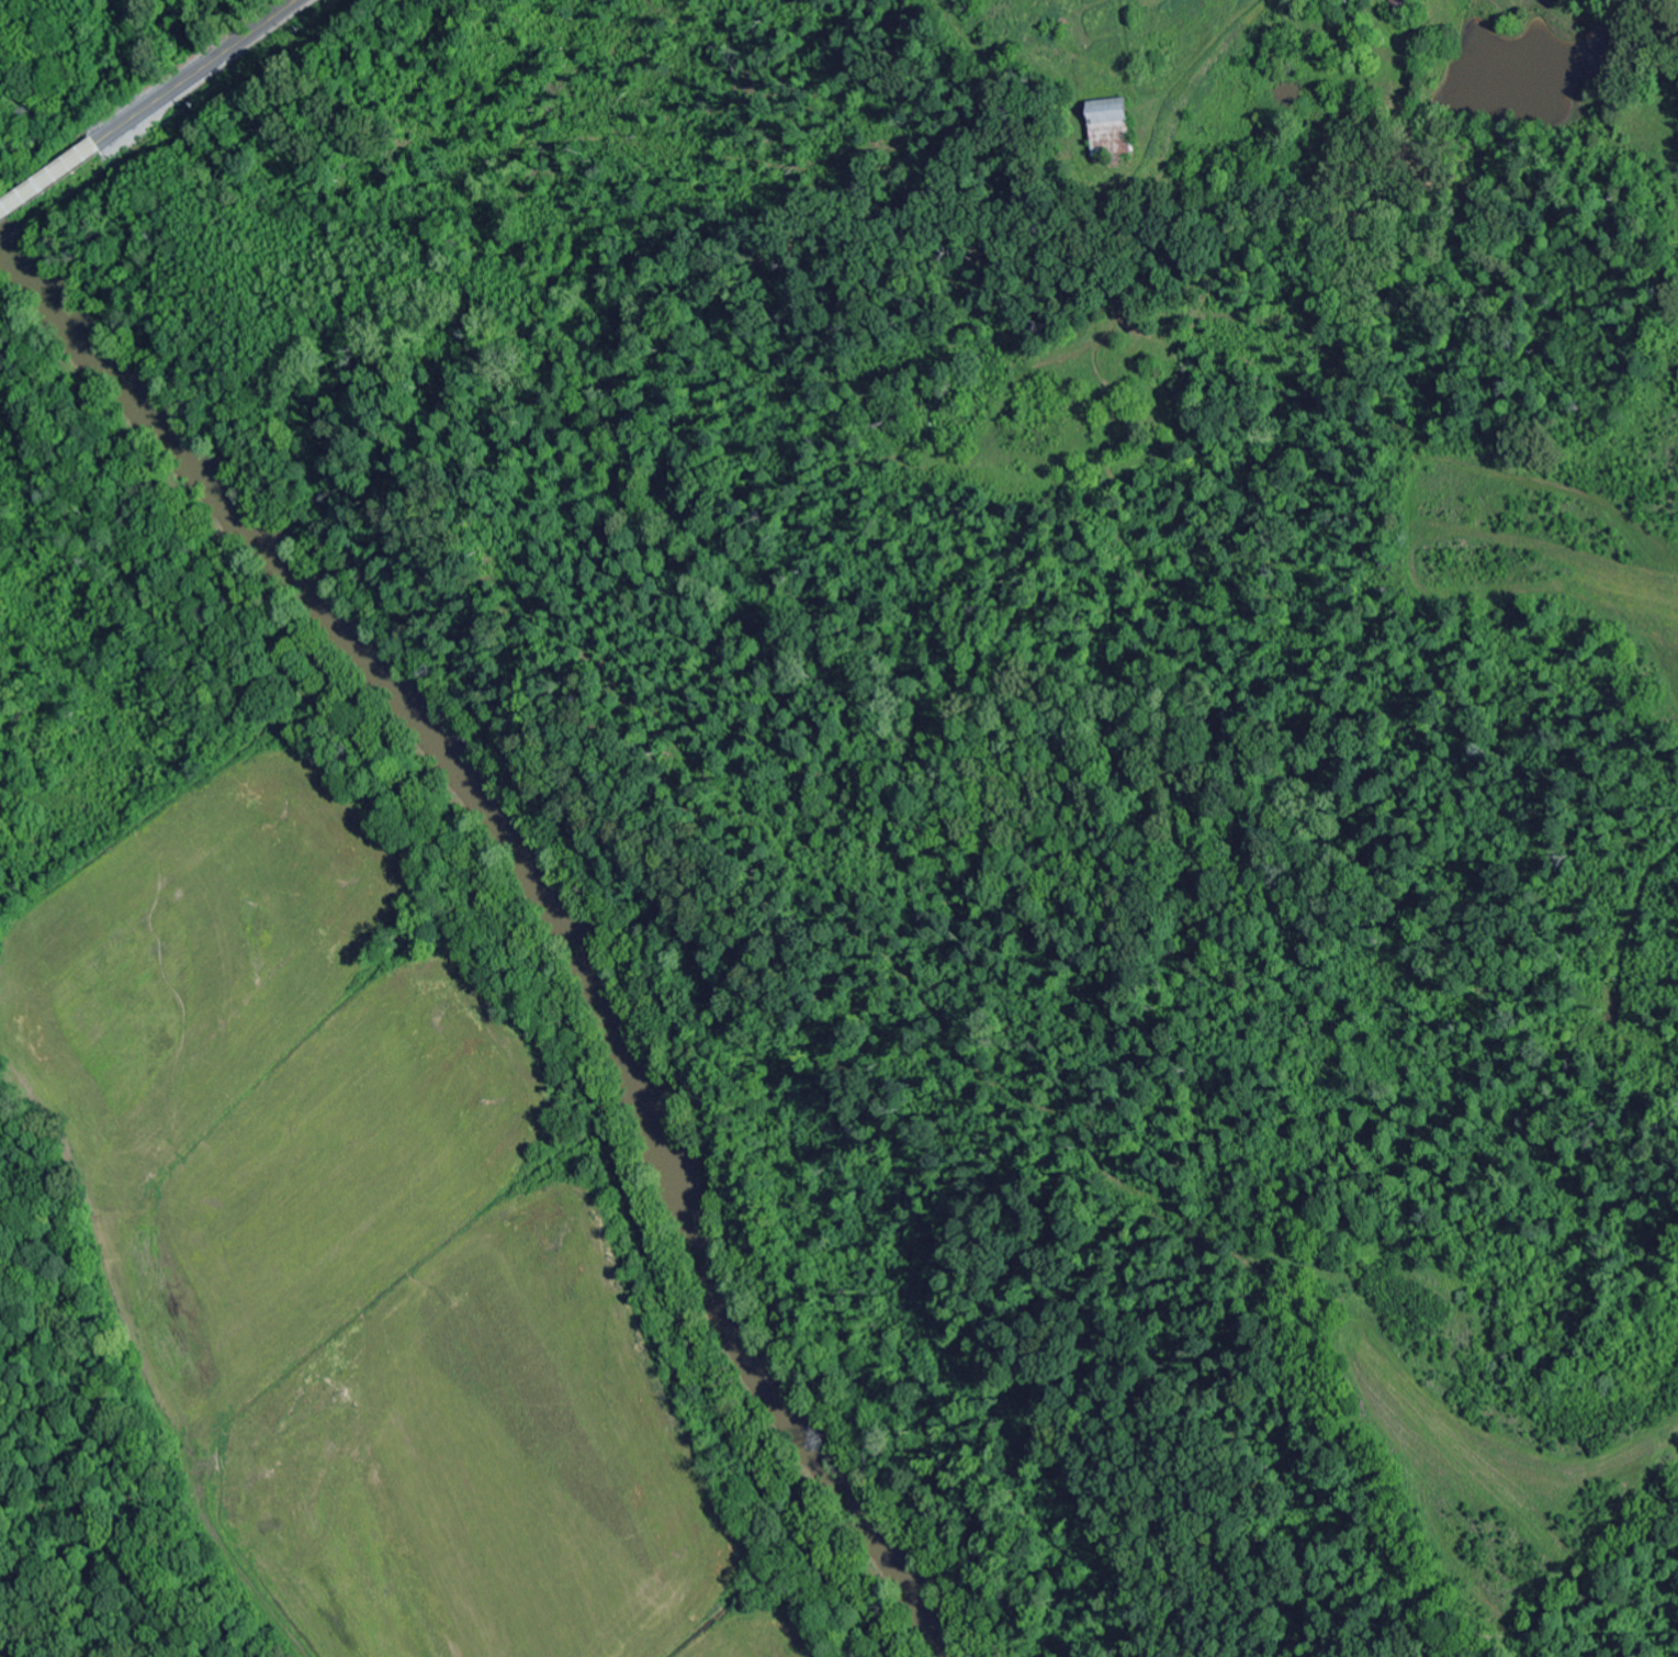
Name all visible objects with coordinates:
road: (195, 70)
building: (1113, 127)
road: (49, 177)
river: (550, 894)
road: (1602, 1536)
road: (1654, 1614)

